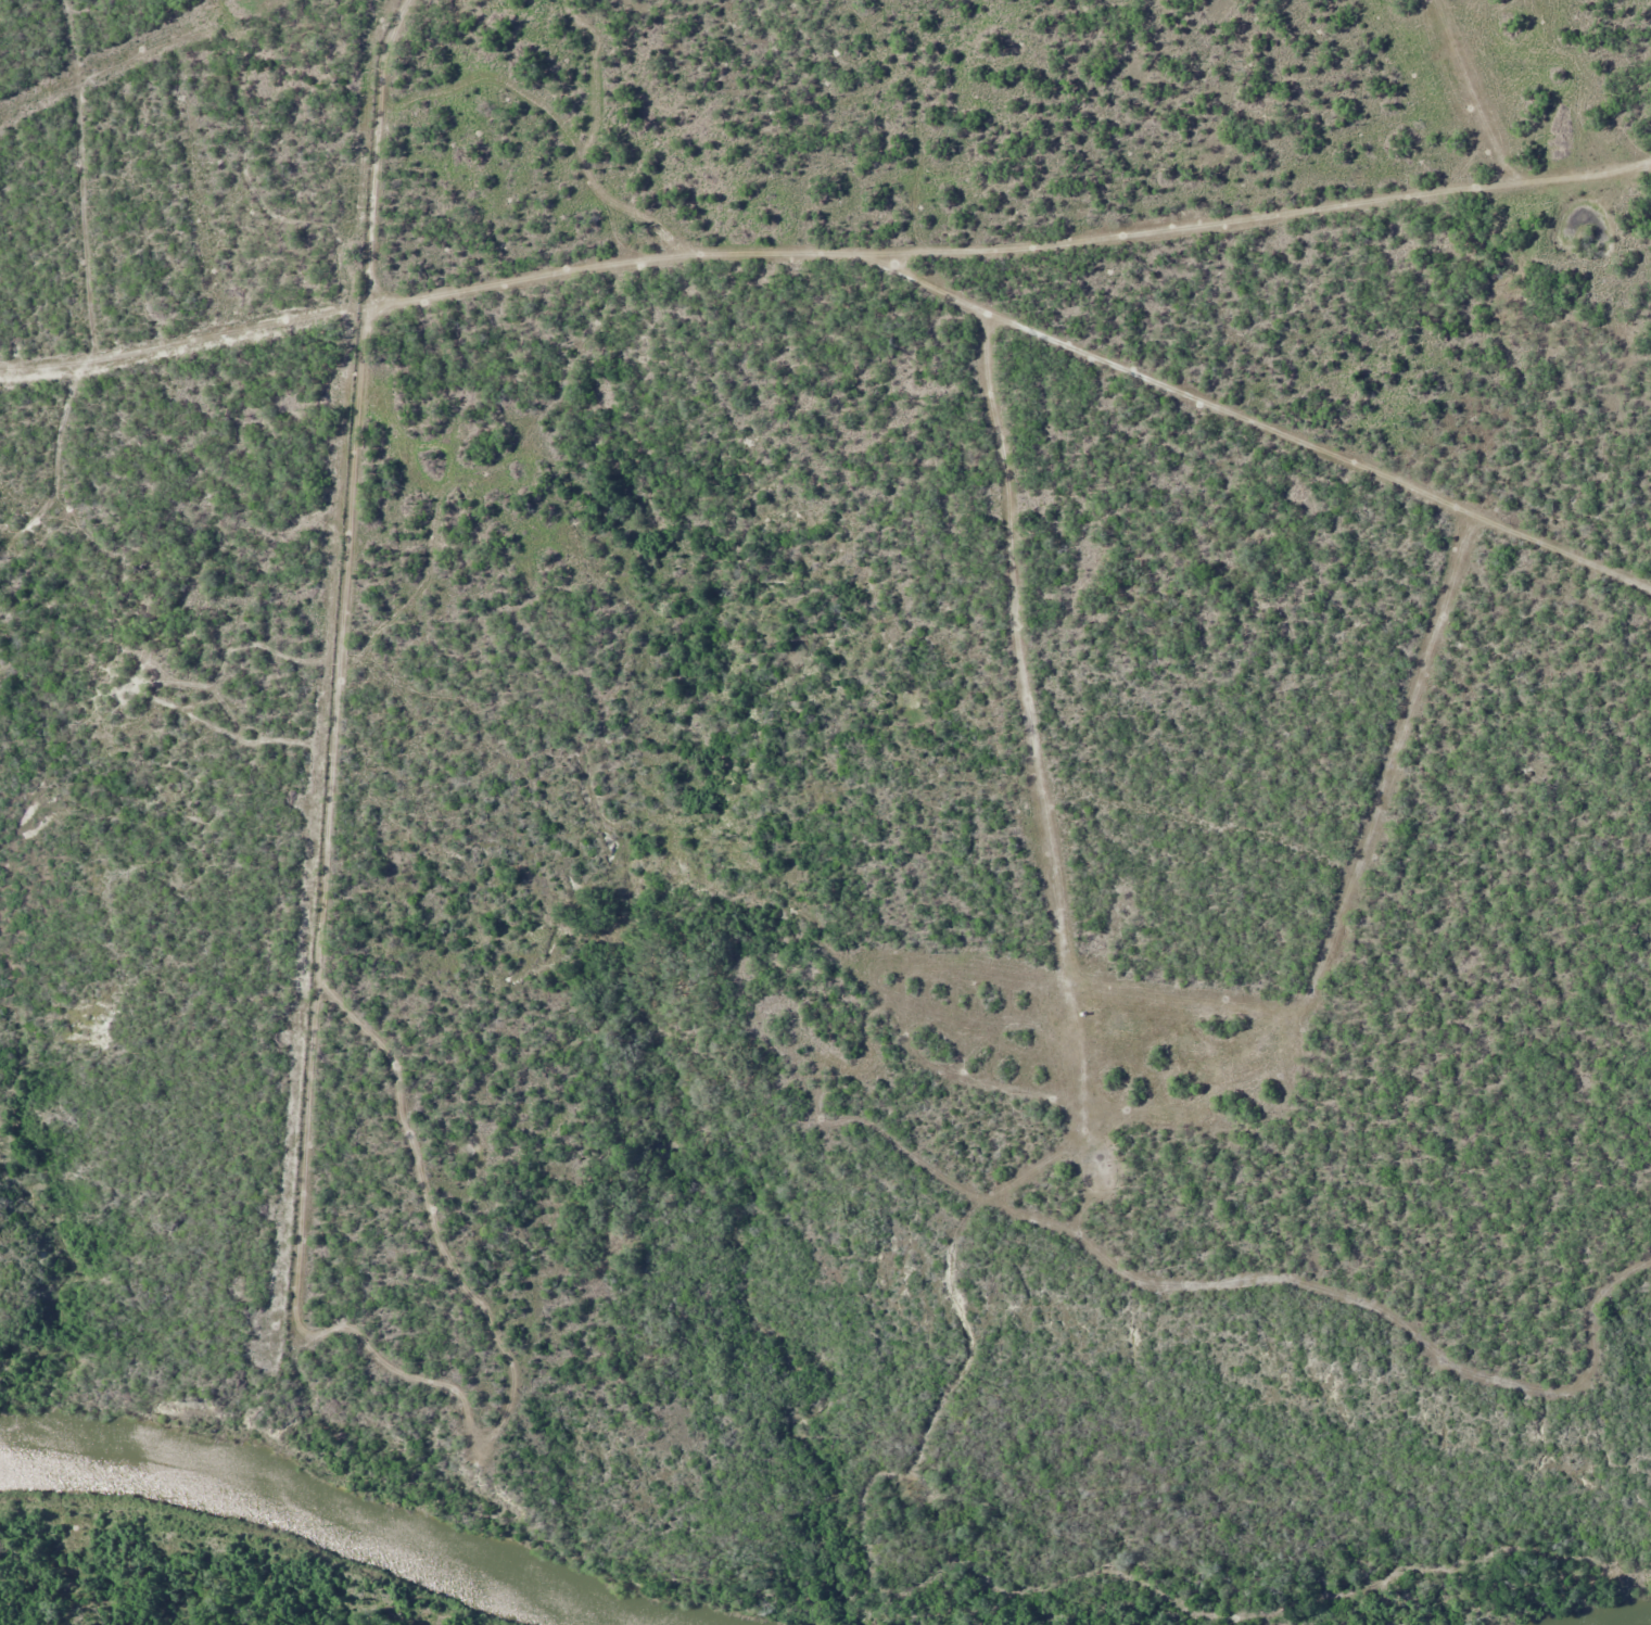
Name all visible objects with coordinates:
road: (1350, 262)
road: (854, 296)
river: (323, 1514)

